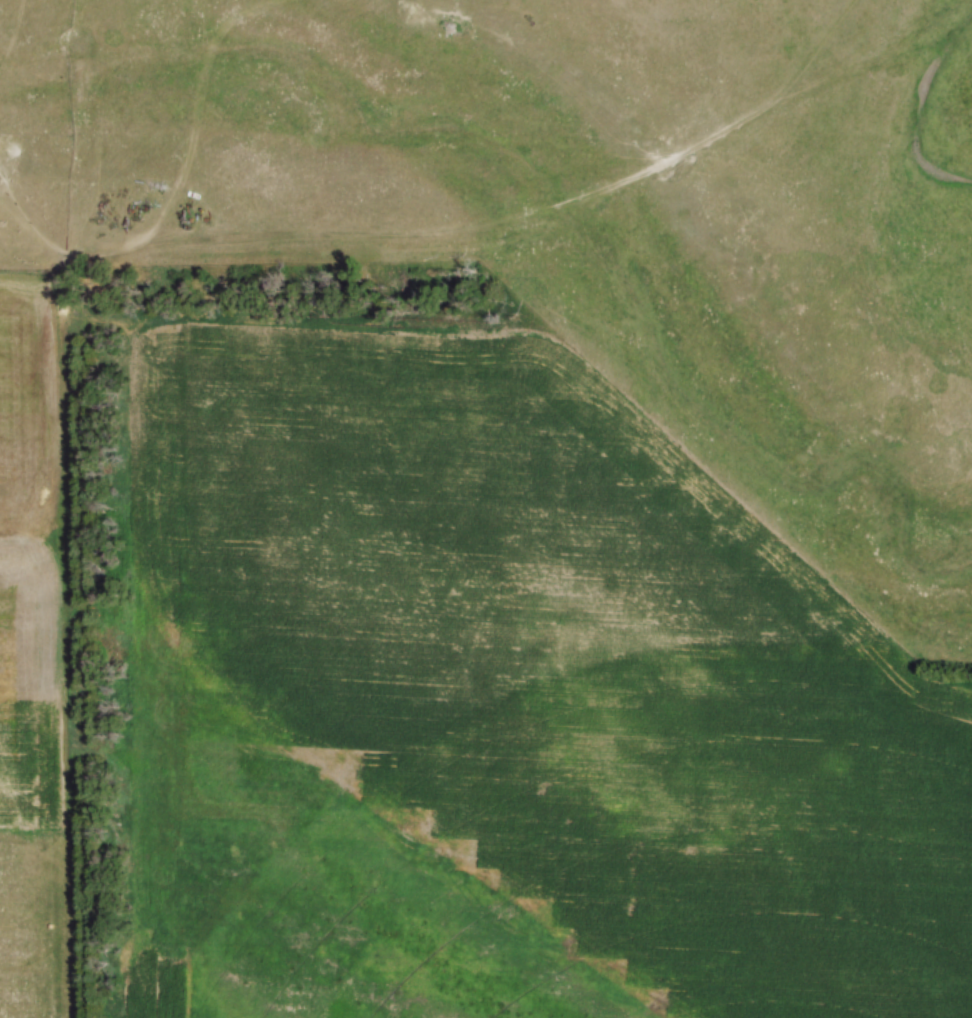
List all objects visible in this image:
building: (371, 965)

